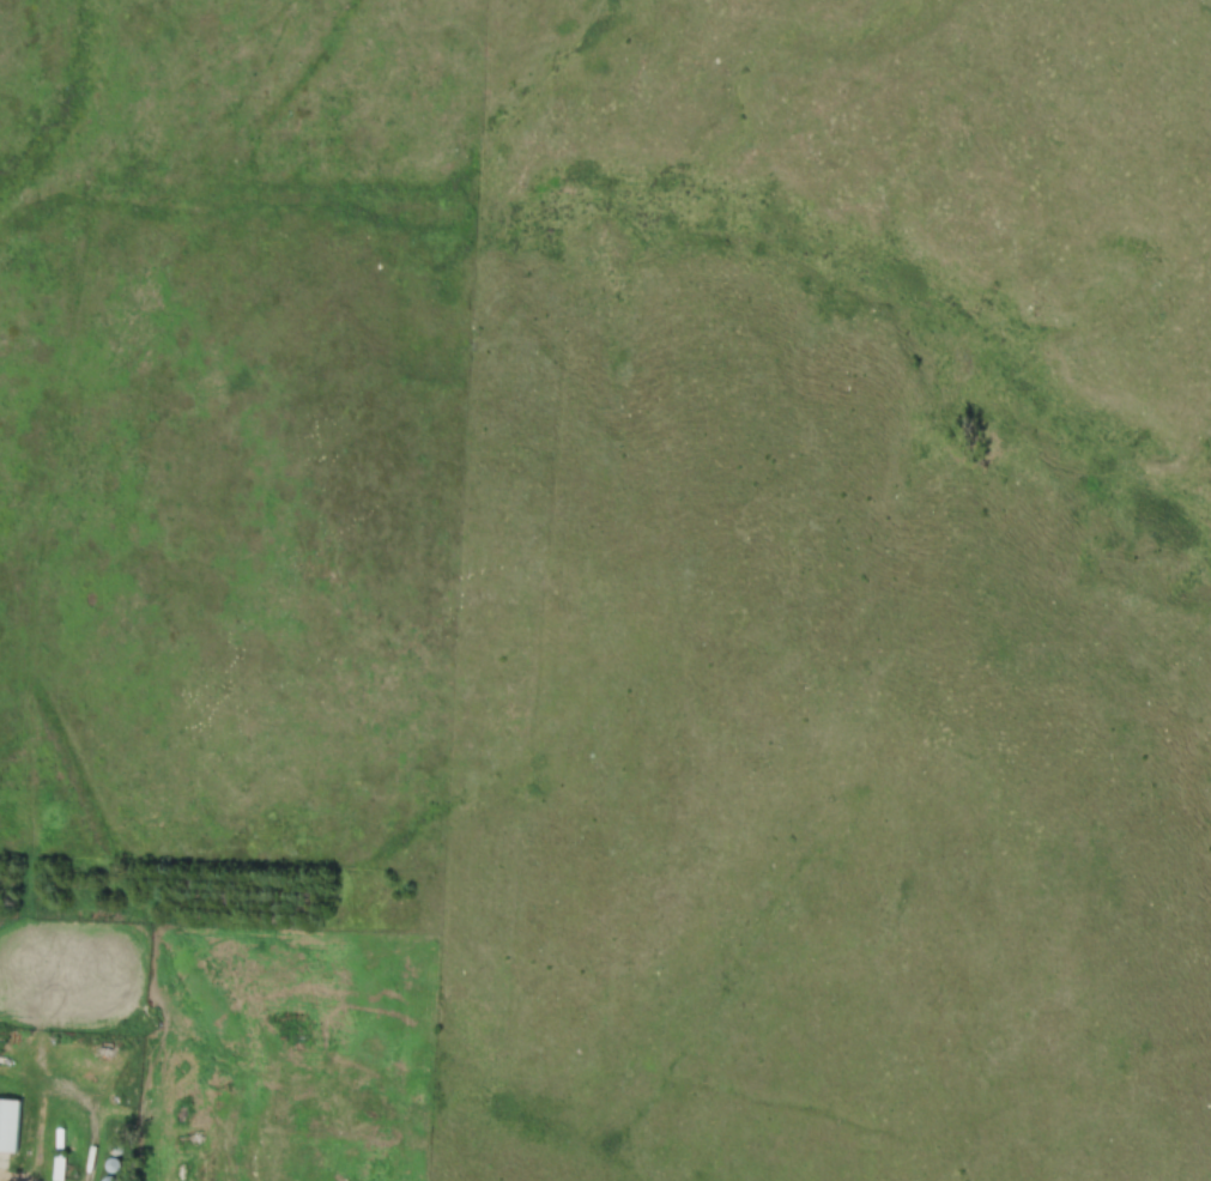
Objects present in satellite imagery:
building: (10, 1126)
building: (57, 1168)

